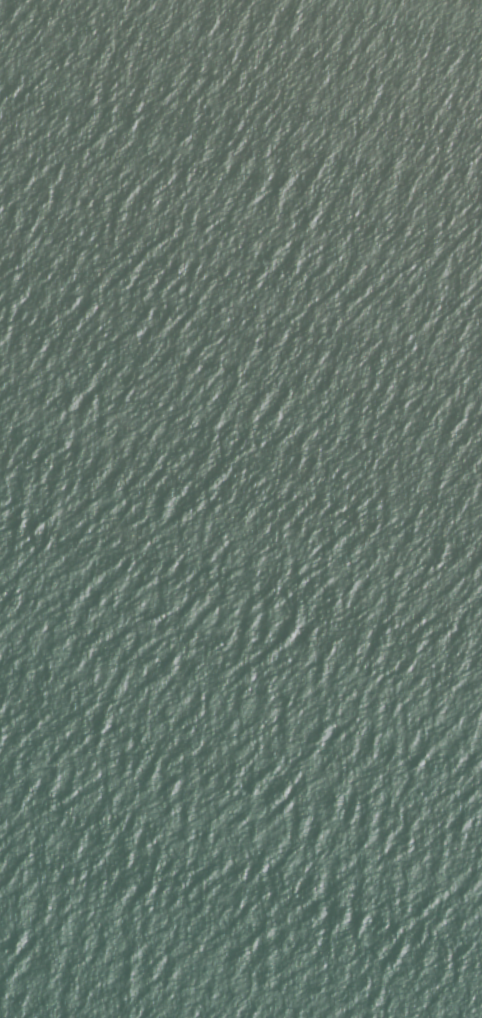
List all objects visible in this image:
river: (241, 797)

